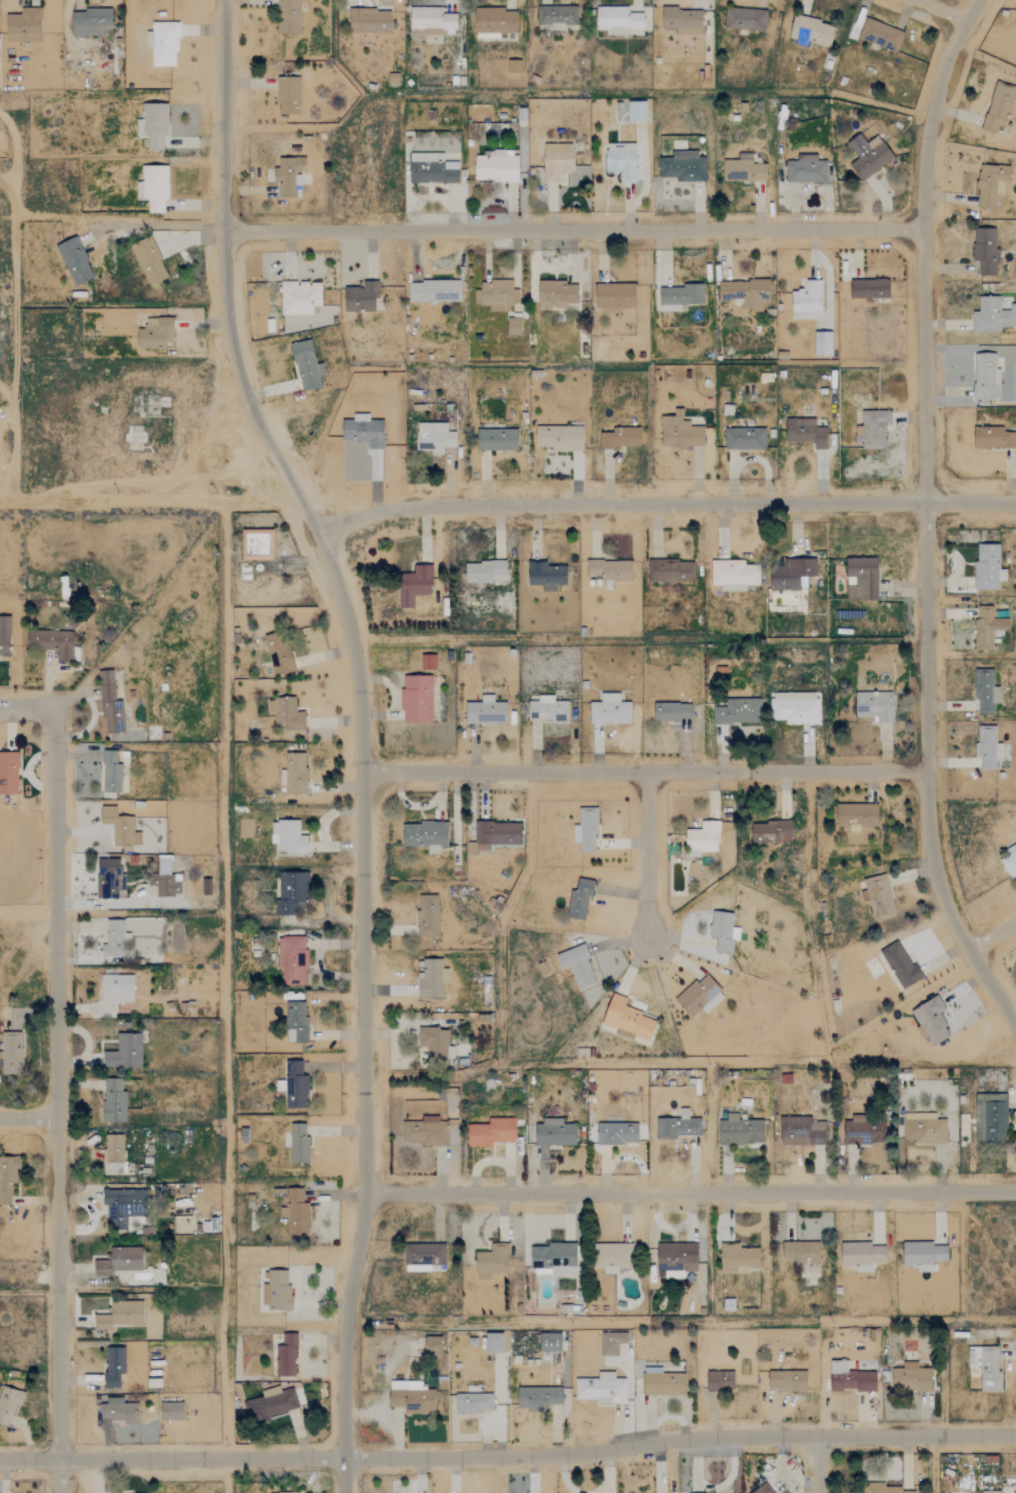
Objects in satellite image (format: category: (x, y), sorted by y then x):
road: (934, 9)
building: (557, 16)
building: (288, 17)
building: (1015, 18)
building: (618, 19)
building: (745, 19)
building: (432, 20)
building: (370, 21)
building: (682, 21)
building: (494, 22)
building: (23, 26)
building: (811, 32)
building: (881, 34)
building: (163, 44)
building: (514, 66)
building: (288, 96)
building: (999, 107)
building: (636, 111)
building: (153, 125)
building: (868, 156)
building: (557, 161)
building: (621, 161)
building: (497, 167)
building: (683, 167)
building: (432, 169)
building: (743, 170)
building: (806, 170)
building: (289, 176)
building: (991, 184)
building: (153, 188)
road: (571, 228)
building: (985, 250)
building: (74, 261)
building: (149, 261)
building: (869, 288)
building: (434, 291)
building: (745, 293)
building: (556, 294)
building: (299, 297)
building: (361, 297)
building: (614, 297)
building: (679, 297)
building: (498, 298)
building: (807, 301)
road: (15, 304)
building: (993, 315)
building: (514, 326)
building: (155, 333)
building: (822, 344)
building: (306, 366)
building: (986, 377)
building: (873, 429)
building: (363, 431)
building: (680, 432)
building: (806, 432)
building: (434, 437)
building: (560, 438)
building: (620, 438)
building: (993, 438)
building: (745, 439)
building: (497, 440)
road: (150, 500)
road: (666, 500)
road: (921, 518)
building: (257, 545)
building: (988, 567)
building: (671, 571)
building: (485, 572)
building: (546, 575)
building: (734, 575)
building: (861, 579)
building: (414, 585)
building: (988, 628)
building: (4, 636)
building: (53, 644)
building: (278, 653)
building: (428, 662)
building: (985, 691)
building: (416, 699)
road: (22, 705)
building: (110, 705)
building: (874, 706)
building: (795, 708)
building: (548, 710)
building: (610, 710)
building: (486, 712)
building: (672, 712)
building: (738, 712)
building: (287, 716)
road: (360, 733)
building: (988, 747)
road: (643, 767)
building: (8, 772)
building: (111, 772)
building: (295, 773)
building: (857, 815)
building: (120, 827)
building: (586, 829)
building: (771, 831)
building: (425, 835)
building: (494, 835)
building: (288, 837)
building: (702, 838)
road: (646, 853)
building: (1010, 864)
building: (166, 878)
building: (110, 879)
building: (291, 891)
building: (878, 896)
building: (579, 900)
building: (427, 916)
building: (723, 931)
building: (114, 938)
road: (995, 945)
building: (292, 959)
building: (900, 964)
building: (577, 965)
building: (432, 978)
building: (115, 991)
building: (700, 996)
building: (627, 1019)
building: (931, 1020)
building: (296, 1021)
building: (436, 1043)
building: (124, 1051)
building: (11, 1053)
road: (689, 1064)
building: (113, 1100)
road: (55, 1101)
road: (27, 1118)
building: (991, 1118)
building: (677, 1126)
building: (924, 1128)
building: (739, 1130)
building: (426, 1131)
building: (801, 1131)
building: (493, 1132)
building: (555, 1132)
building: (863, 1132)
building: (617, 1133)
building: (298, 1143)
building: (113, 1148)
building: (8, 1180)
road: (690, 1193)
building: (123, 1206)
building: (295, 1212)
building: (802, 1252)
building: (553, 1254)
building: (861, 1255)
building: (923, 1255)
building: (423, 1256)
building: (677, 1256)
building: (614, 1257)
building: (738, 1257)
building: (119, 1261)
building: (491, 1261)
building: (563, 1270)
road: (28, 1291)
building: (276, 1291)
building: (728, 1304)
building: (120, 1315)
road: (680, 1323)
building: (494, 1342)
building: (550, 1342)
building: (611, 1342)
building: (433, 1345)
building: (285, 1356)
building: (113, 1366)
building: (986, 1366)
building: (910, 1377)
building: (850, 1378)
building: (720, 1380)
building: (787, 1380)
building: (662, 1383)
building: (601, 1388)
building: (413, 1398)
building: (538, 1398)
building: (473, 1402)
building: (8, 1403)
building: (270, 1404)
building: (118, 1410)
building: (171, 1411)
road: (508, 1456)
road: (818, 1464)
road: (933, 1464)
road: (225, 1475)
building: (762, 1489)
building: (883, 1490)
building: (286, 1492)
building: (992, 1492)

